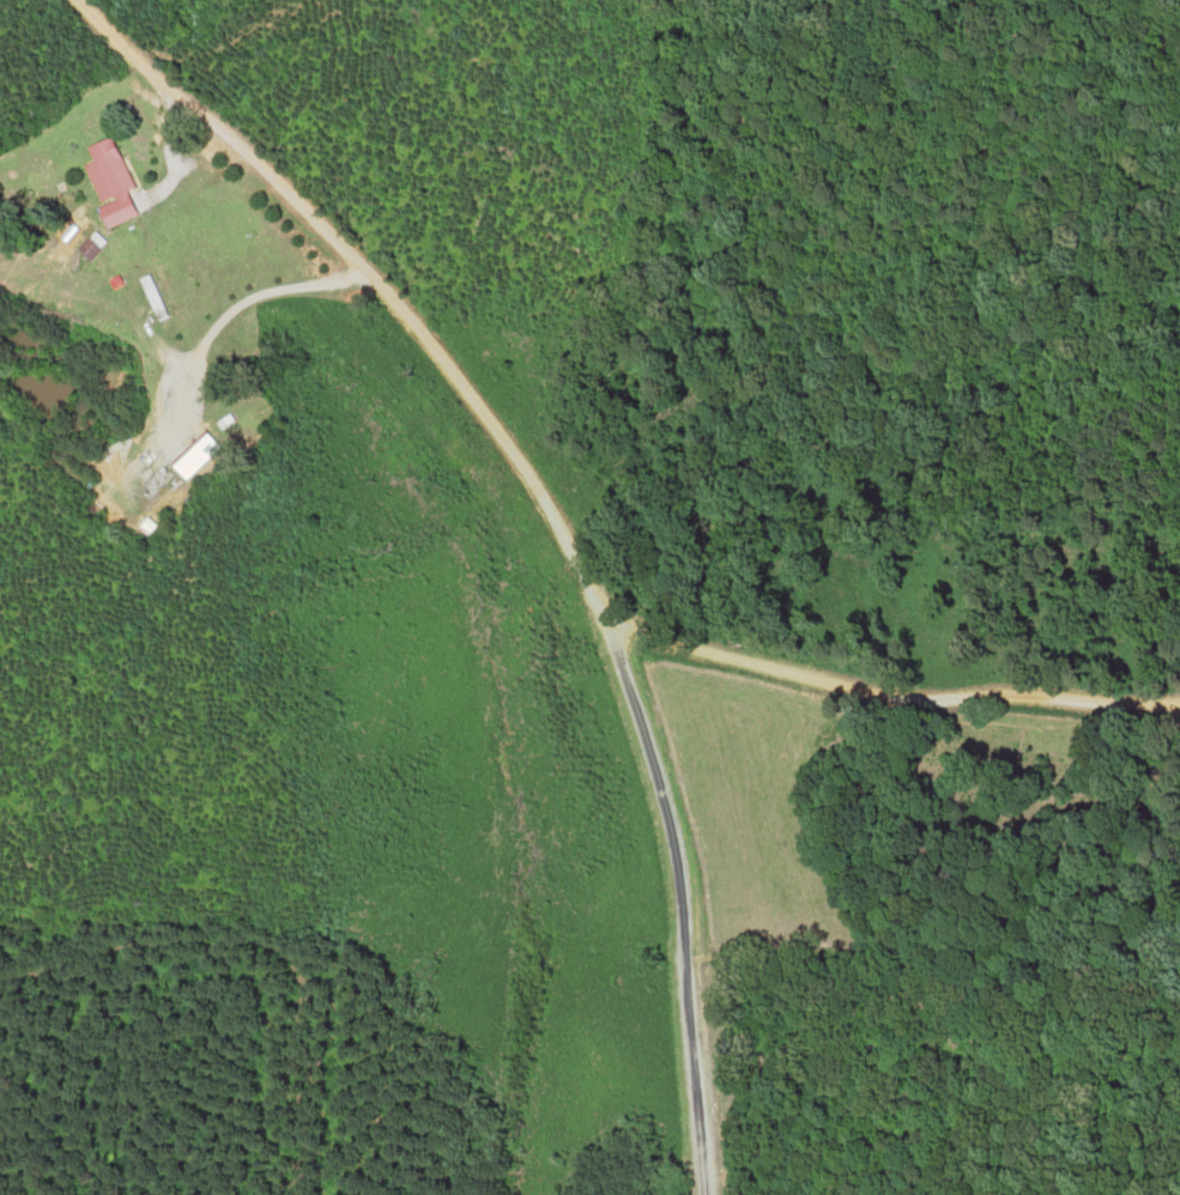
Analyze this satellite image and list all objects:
building: (125, 168)
road: (382, 285)
building: (178, 289)
building: (212, 455)
road: (895, 693)
road: (670, 831)
road: (700, 1120)

